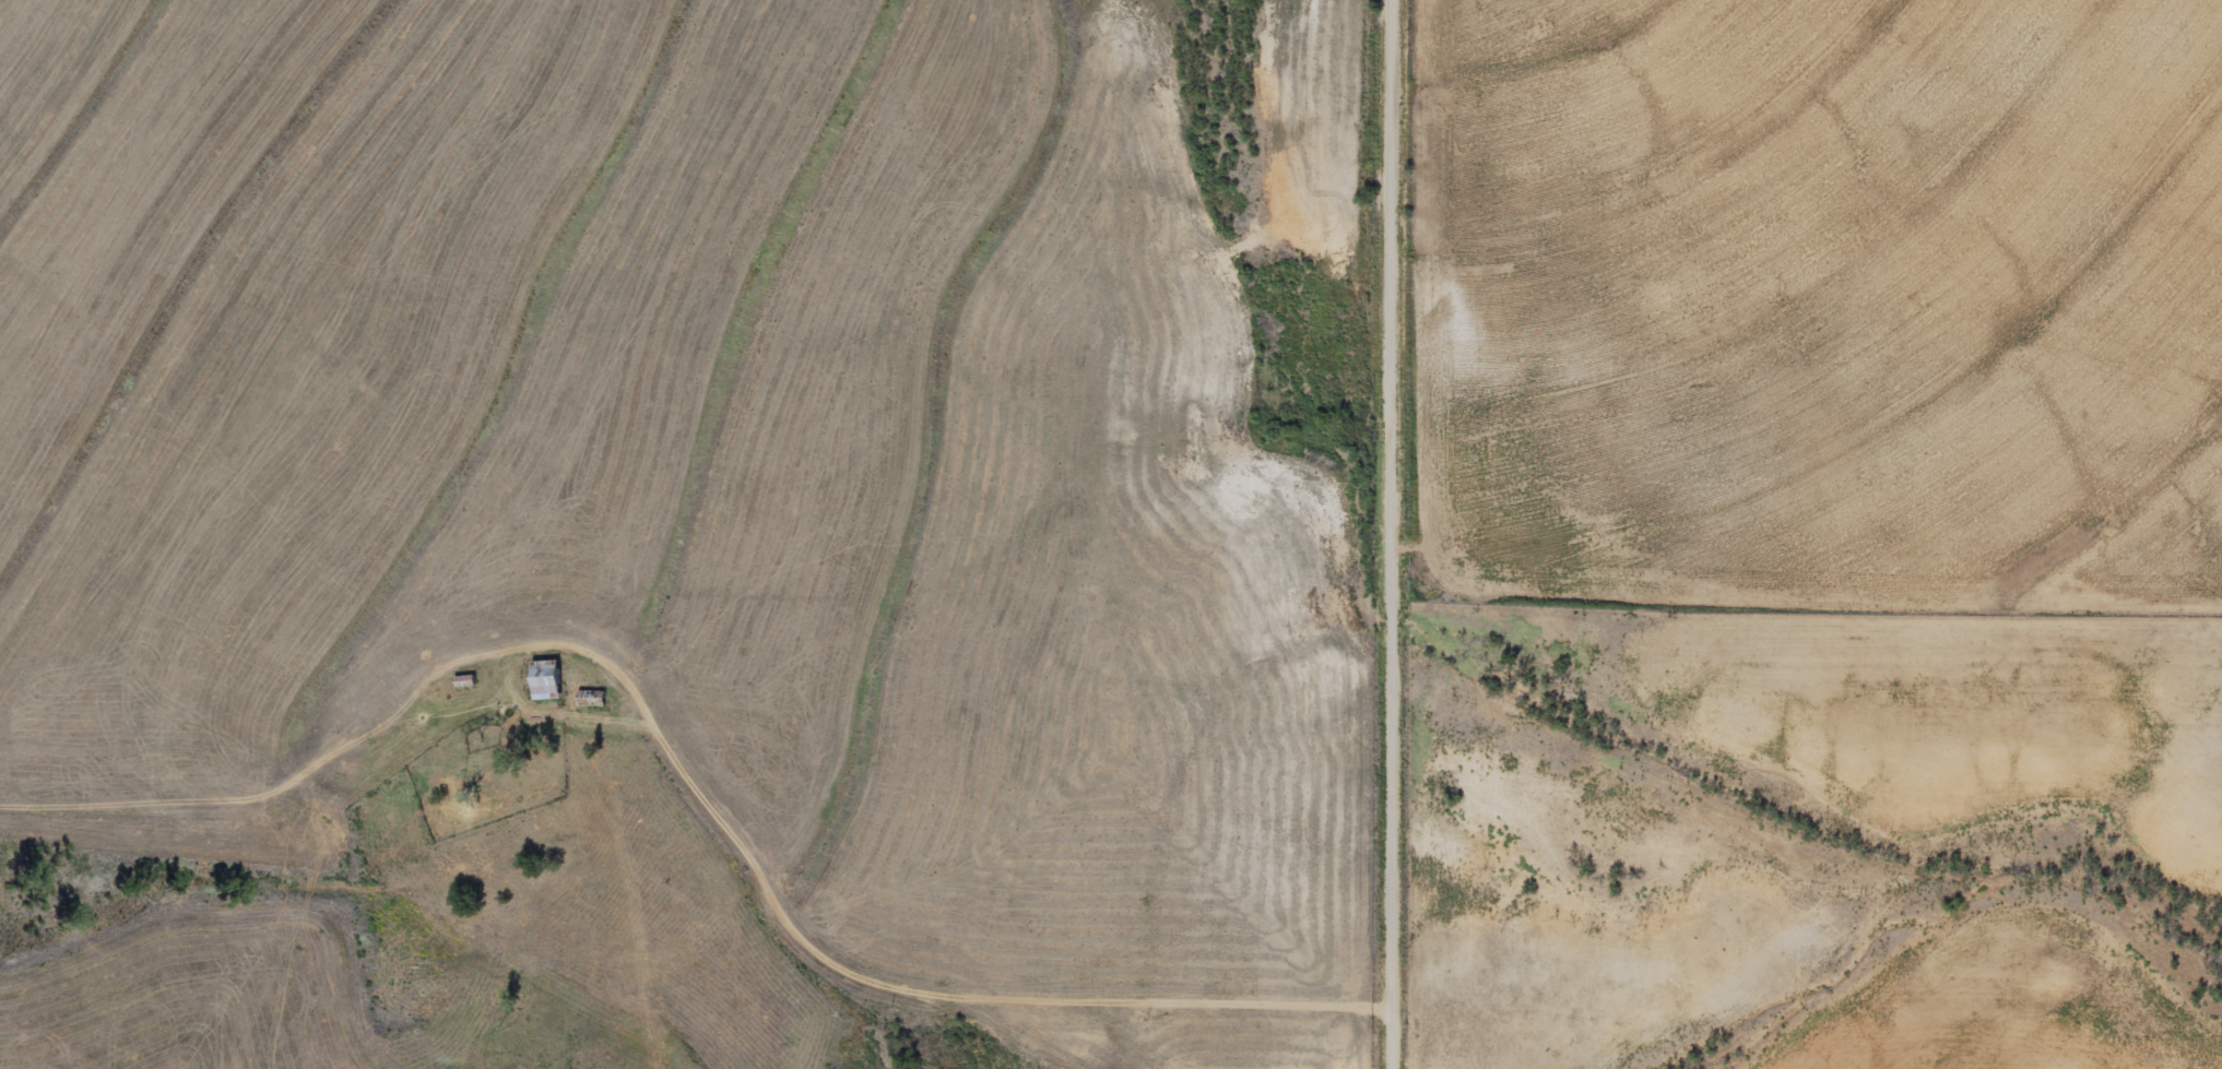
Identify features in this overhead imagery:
road: (1399, 534)
building: (546, 684)
road: (710, 737)

